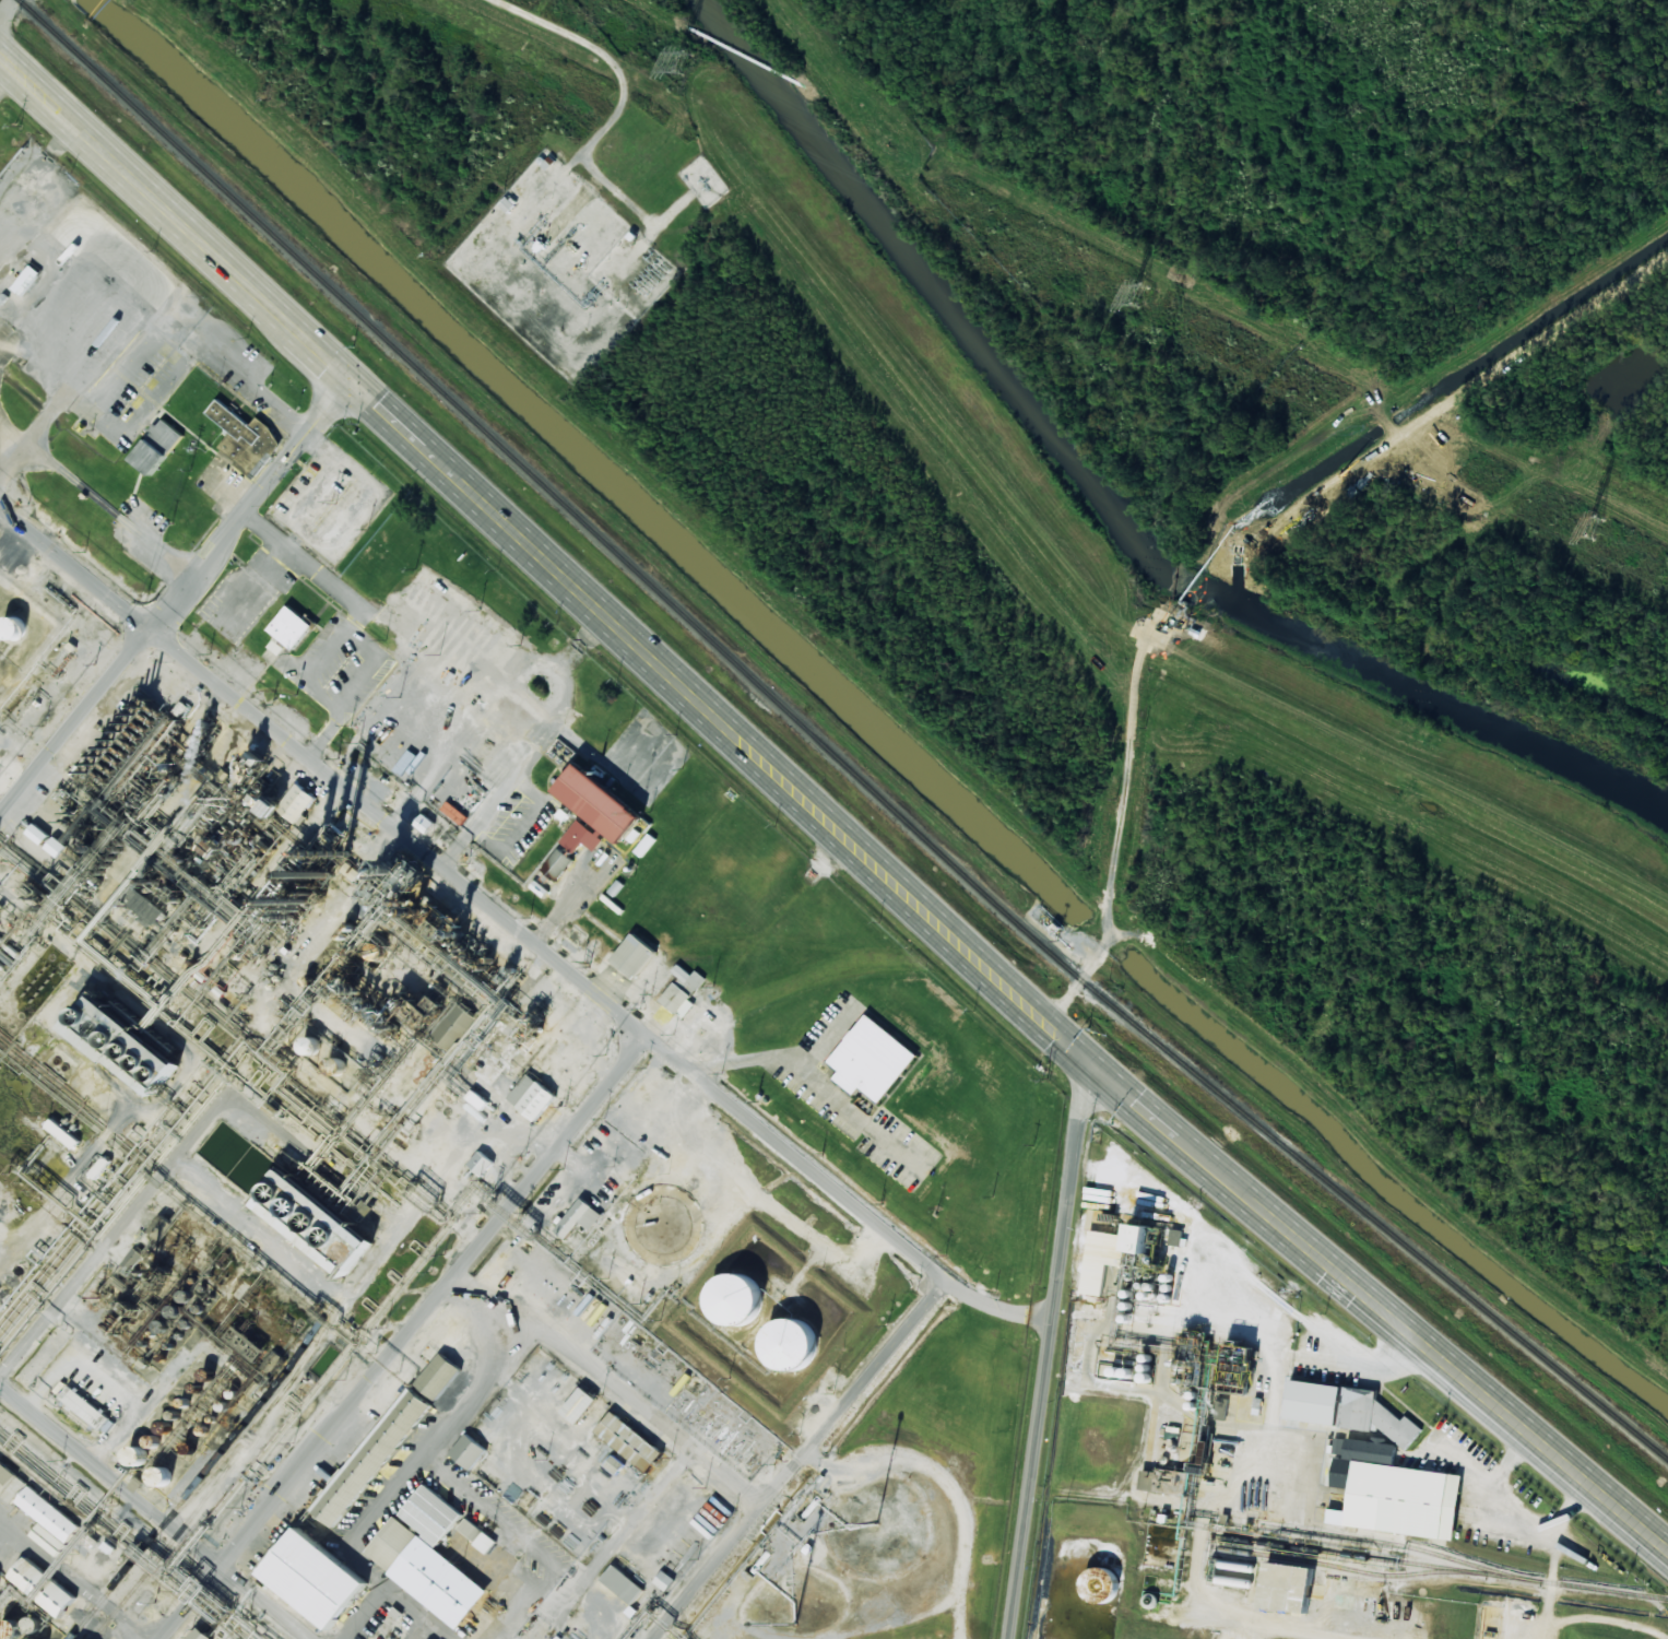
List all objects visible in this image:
road: (8, 12)
power tower: (683, 62)
road: (622, 96)
building: (23, 275)
power tower: (1137, 293)
road: (319, 418)
building: (246, 439)
building: (156, 446)
power tower: (1595, 528)
building: (289, 623)
building: (8, 626)
storage tank: (8, 626)
road: (143, 636)
building: (277, 646)
railway: (827, 747)
building: (295, 794)
building: (592, 805)
road: (821, 814)
building: (425, 823)
building: (38, 833)
building: (57, 846)
building: (315, 860)
building: (558, 864)
road: (518, 928)
building: (634, 955)
building: (688, 977)
building: (678, 1000)
building: (454, 1026)
building: (125, 1045)
building: (309, 1046)
building: (866, 1057)
building: (336, 1062)
traffic signals: (1100, 1073)
building: (532, 1096)
building: (477, 1099)
building: (63, 1133)
building: (481, 1163)
road: (164, 1172)
building: (580, 1217)
building: (307, 1227)
building: (1175, 1237)
building: (1139, 1238)
building: (133, 1259)
building: (1101, 1259)
building: (1111, 1276)
building: (729, 1301)
storage tank: (729, 1301)
building: (1109, 1307)
building: (174, 1311)
road: (406, 1335)
building: (247, 1343)
building: (781, 1349)
storage tank: (781, 1349)
road: (1049, 1354)
building: (272, 1361)
building: (435, 1373)
road: (613, 1383)
building: (83, 1403)
building: (580, 1405)
building: (1347, 1410)
building: (1221, 1413)
building: (630, 1441)
building: (465, 1447)
building: (189, 1448)
building: (368, 1454)
building: (130, 1457)
storage tank: (130, 1457)
road: (801, 1459)
building: (614, 1464)
railway: (211, 1465)
building: (4, 1473)
building: (154, 1476)
storage tank: (154, 1476)
railway: (222, 1476)
building: (1164, 1481)
building: (1399, 1499)
building: (45, 1509)
building: (429, 1509)
road: (156, 1510)
building: (477, 1534)
railway: (1400, 1545)
railway: (1339, 1566)
railway: (1441, 1567)
building: (308, 1577)
building: (622, 1577)
building: (436, 1579)
building: (664, 1579)
building: (42, 1581)
building: (1091, 1587)
storage tank: (1091, 1587)
building: (1280, 1589)
building: (36, 1624)
building: (7, 1629)
storage tank: (7, 1629)
building: (204, 1635)

